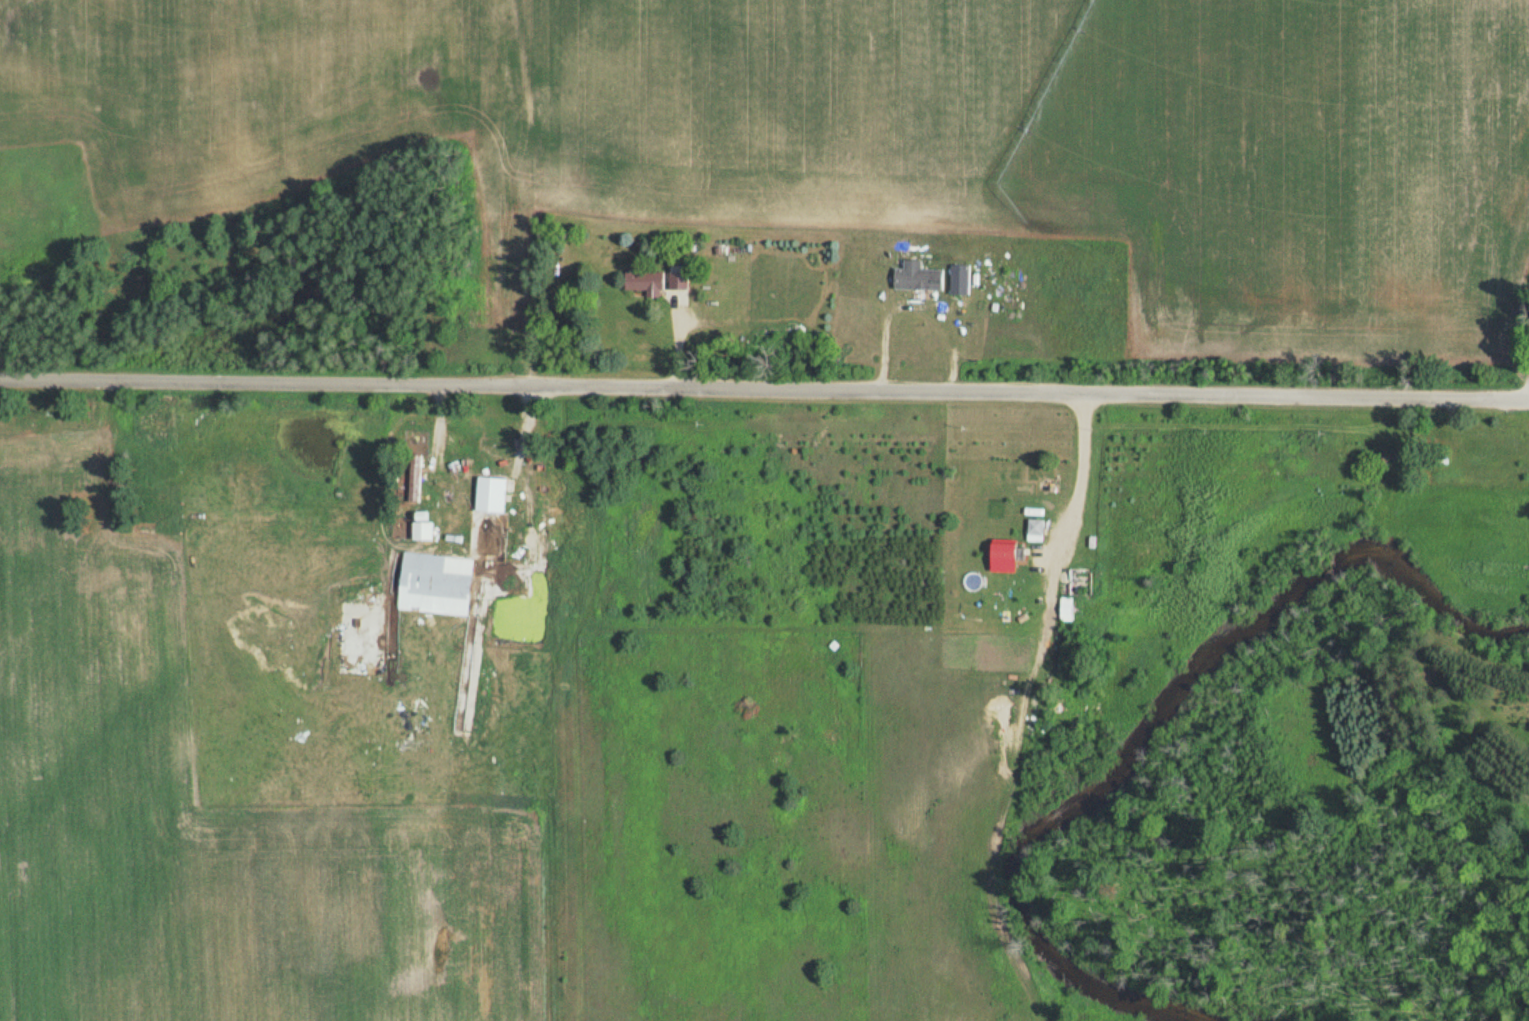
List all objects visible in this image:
road: (527, 194)
building: (1527, 224)
building: (920, 276)
building: (681, 277)
building: (963, 279)
building: (649, 281)
road: (755, 390)
road: (1519, 401)
road: (1077, 481)
building: (492, 517)
building: (425, 530)
building: (1037, 530)
building: (1011, 552)
building: (438, 580)
building: (1081, 581)
building: (1070, 605)
river: (1155, 718)
building: (266, 784)

